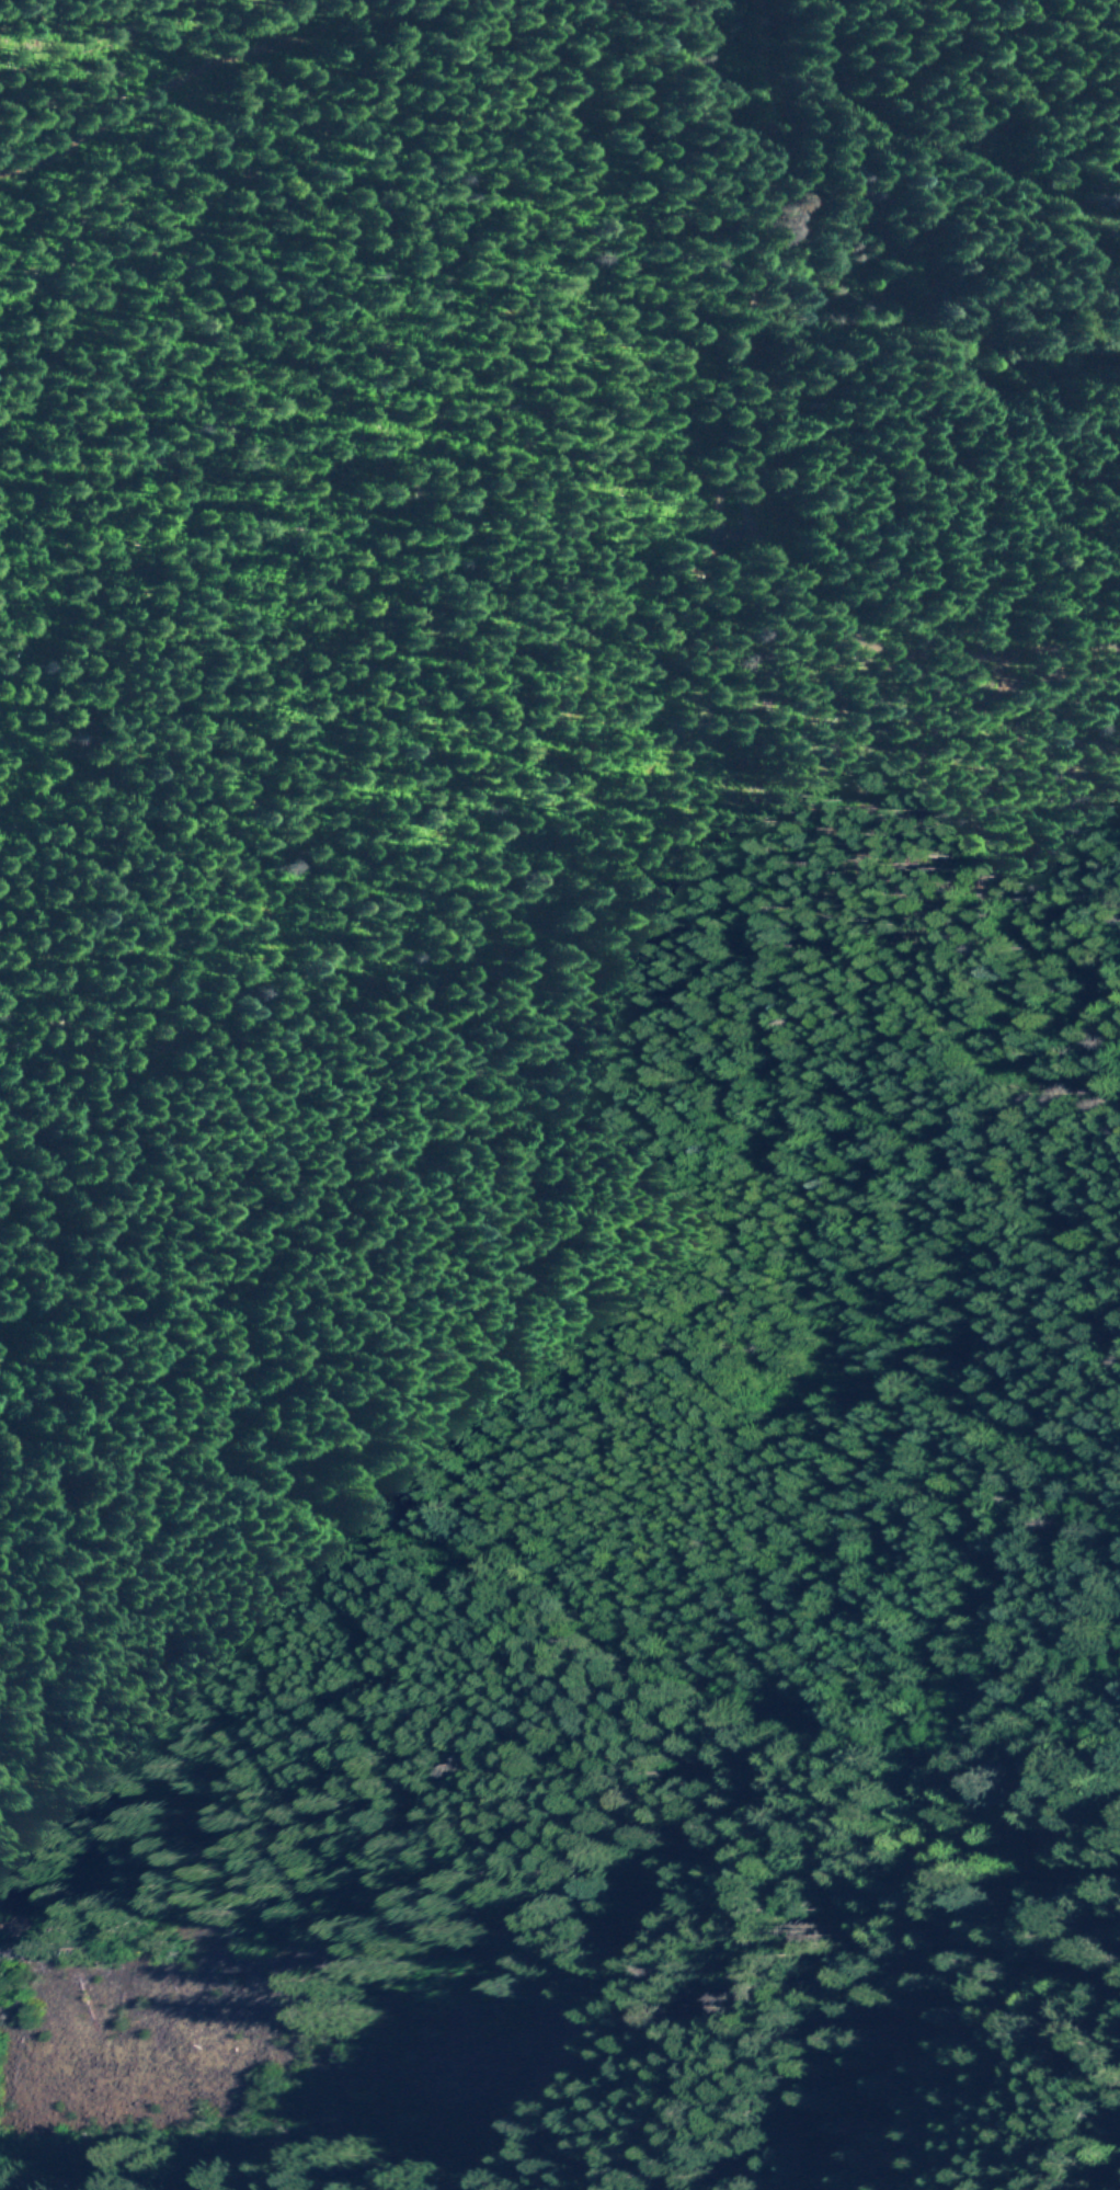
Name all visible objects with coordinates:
road: (704, 469)

